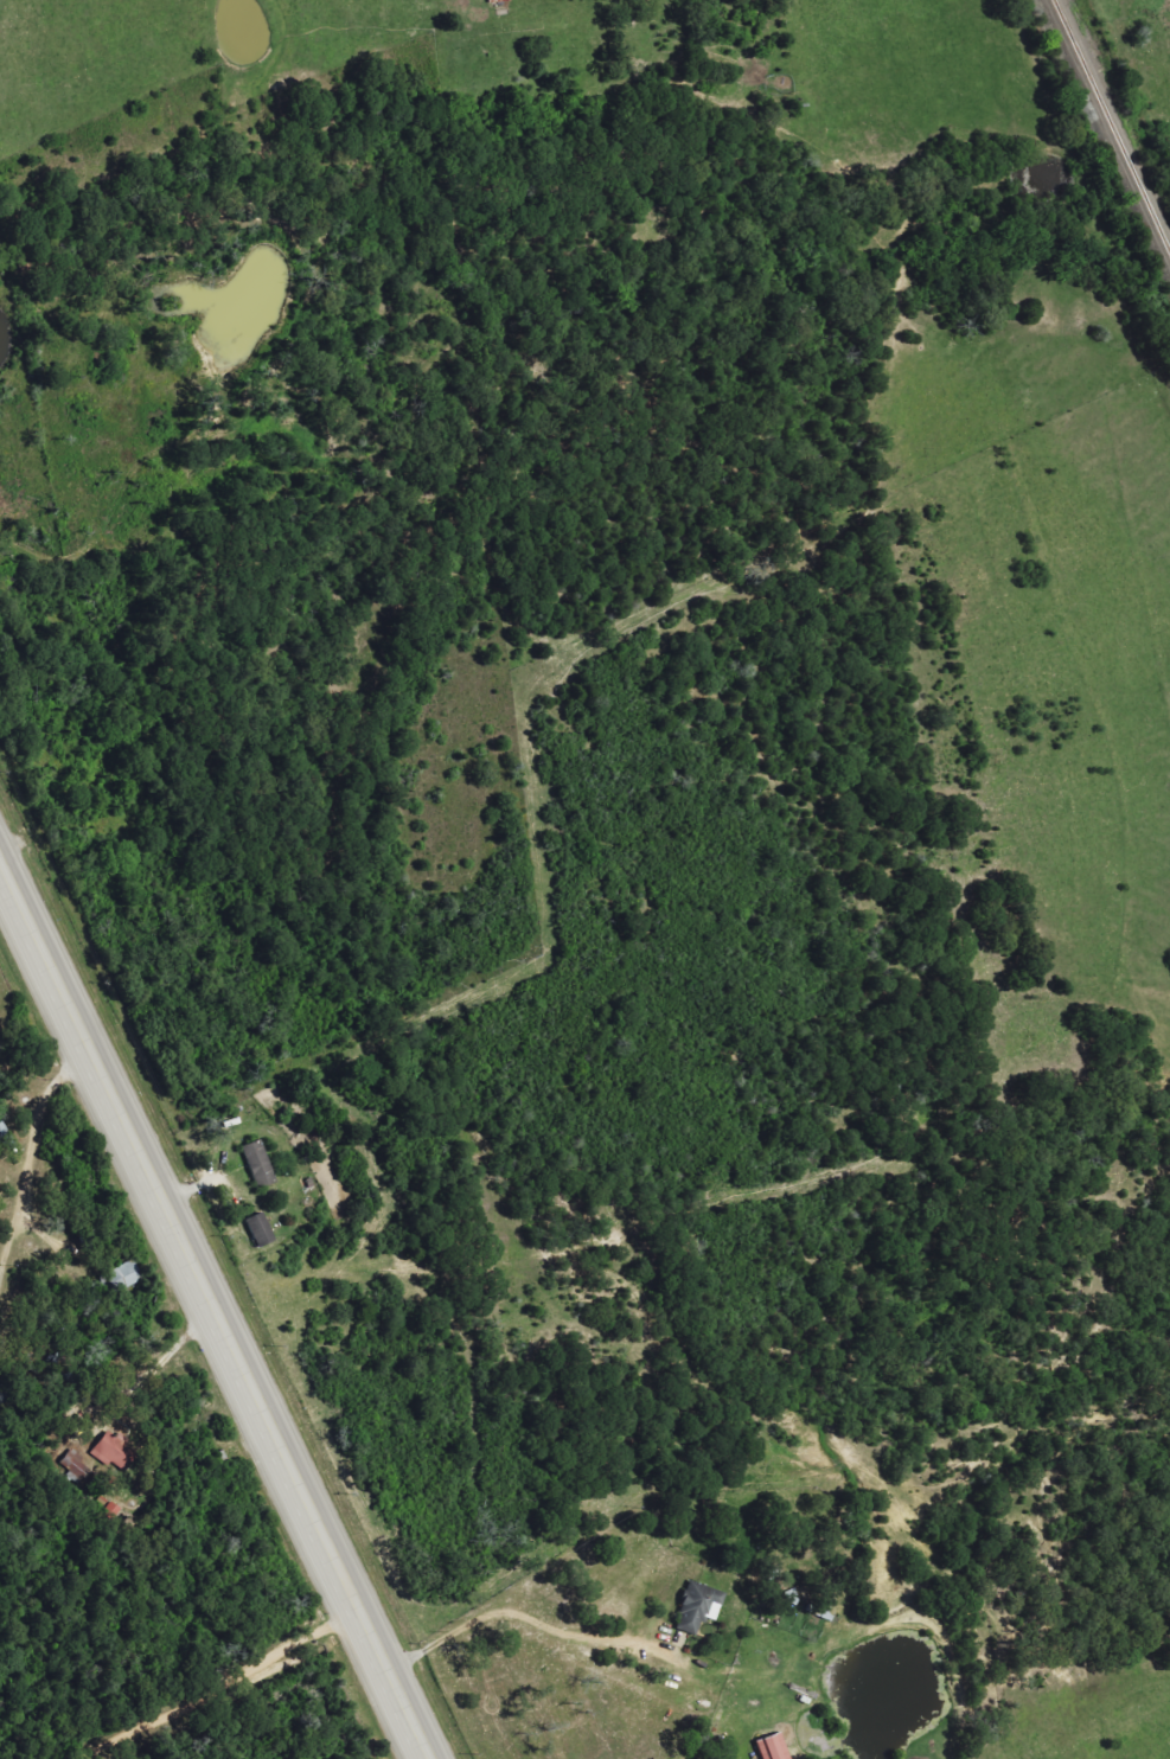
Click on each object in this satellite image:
railway: (1110, 128)
road: (27, 1156)
building: (261, 1165)
building: (262, 1230)
building: (123, 1279)
road: (213, 1311)
building: (5, 1395)
building: (119, 1453)
building: (701, 1608)
road: (523, 1620)
road: (220, 1689)
building: (774, 1748)

